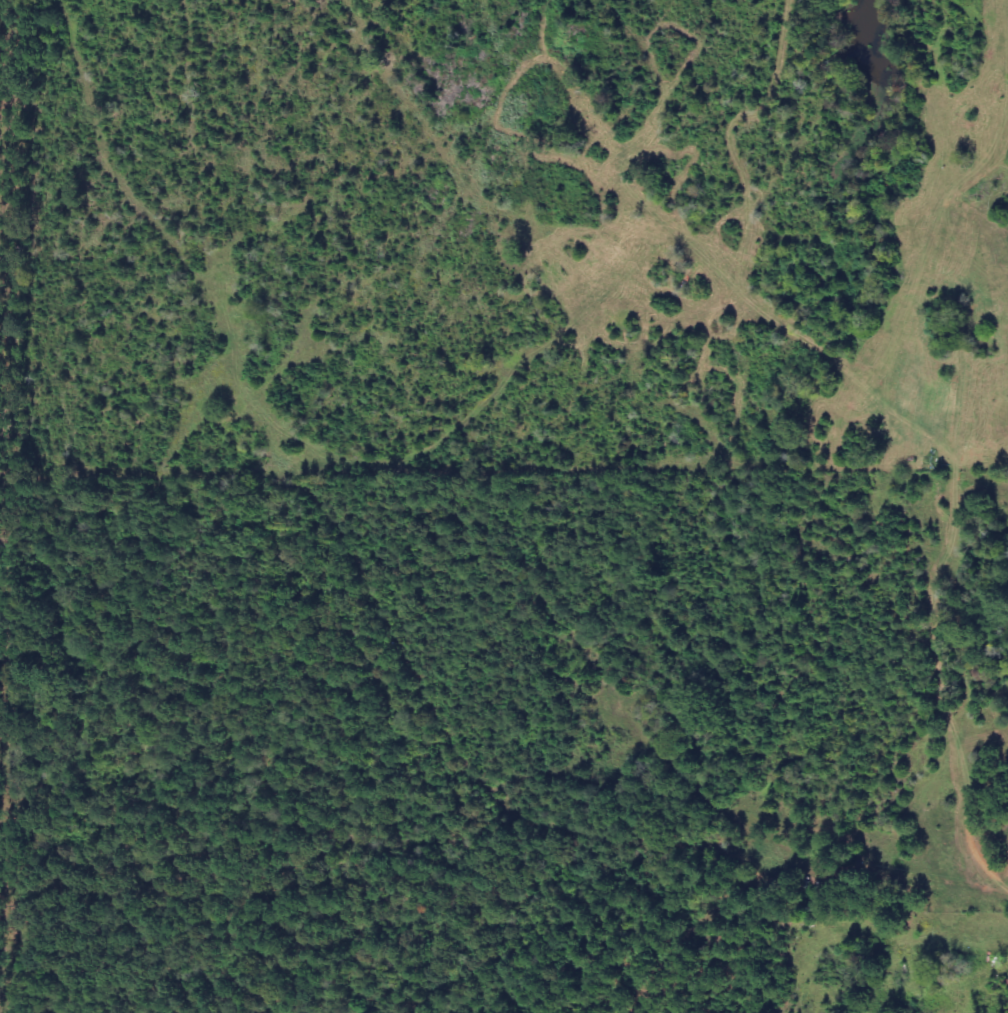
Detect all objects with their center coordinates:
road: (972, 908)

